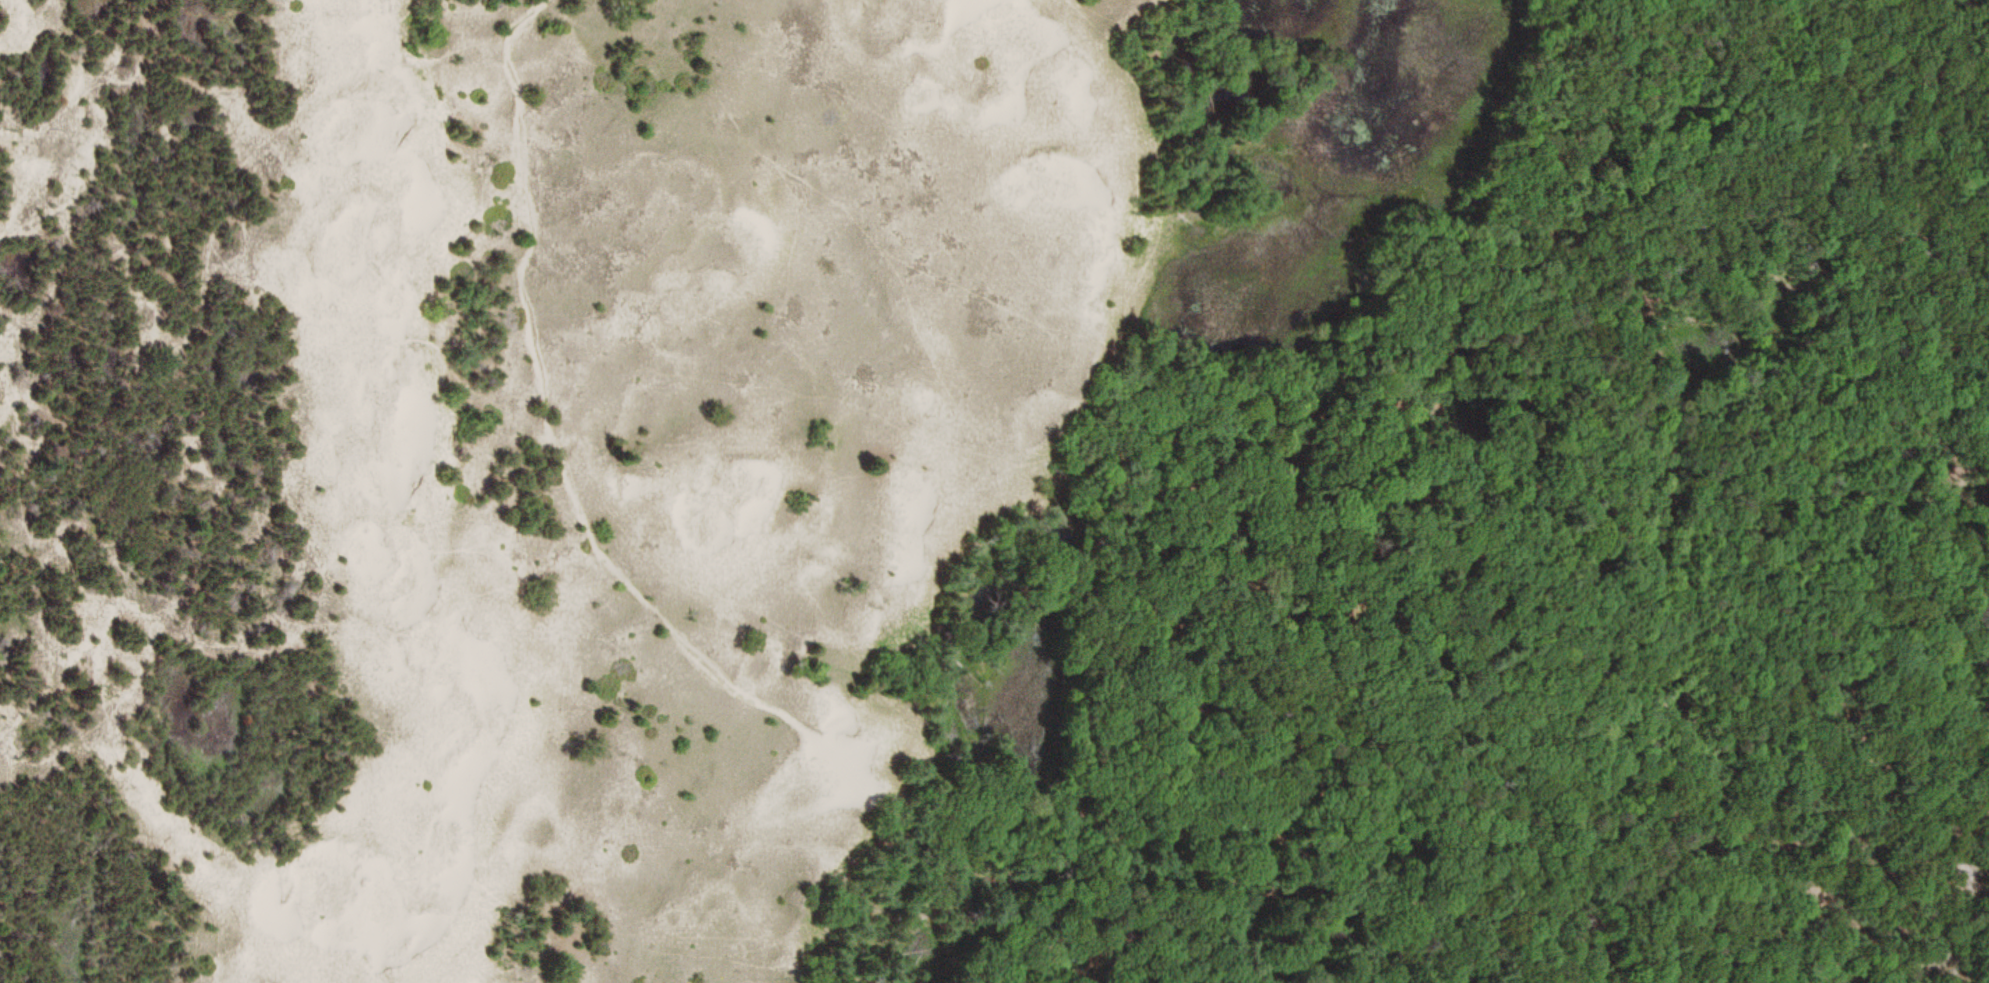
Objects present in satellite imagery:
road: (1779, 313)
park: (994, 491)
road: (599, 543)

